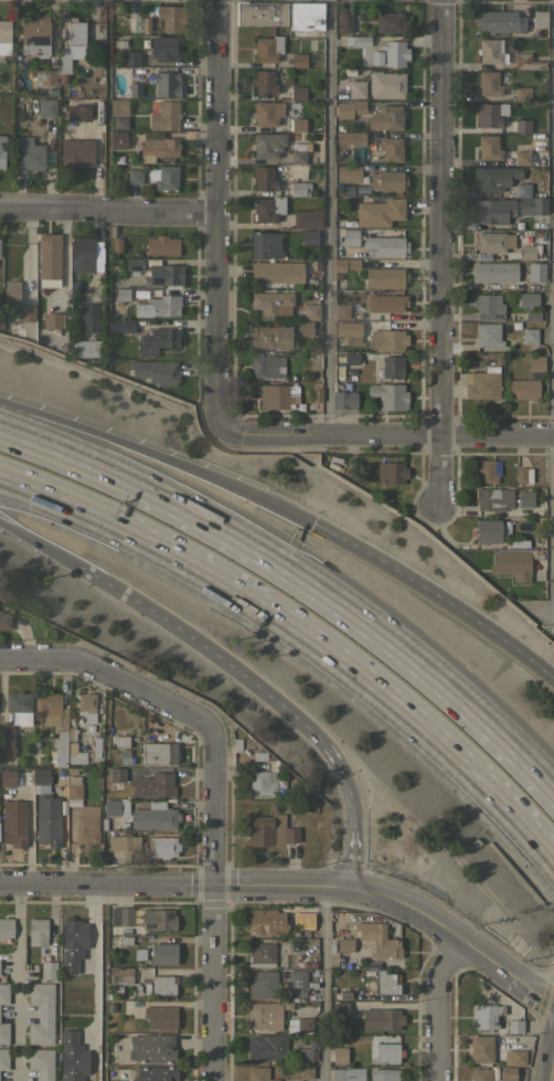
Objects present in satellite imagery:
building: (262, 13)
building: (305, 17)
building: (172, 18)
building: (540, 19)
building: (344, 22)
building: (391, 22)
building: (500, 22)
building: (146, 24)
building: (75, 31)
building: (4, 36)
building: (35, 36)
building: (356, 40)
building: (119, 44)
building: (166, 47)
building: (267, 47)
building: (491, 51)
building: (394, 52)
building: (131, 57)
building: (376, 57)
building: (298, 60)
building: (528, 61)
building: (54, 72)
building: (264, 81)
building: (286, 82)
building: (167, 83)
building: (489, 83)
building: (386, 84)
building: (356, 88)
building: (135, 89)
building: (298, 92)
building: (522, 93)
building: (119, 106)
building: (46, 107)
building: (350, 108)
building: (78, 112)
building: (491, 113)
building: (164, 115)
building: (267, 115)
building: (386, 117)
building: (118, 121)
building: (298, 125)
building: (522, 125)
road: (97, 130)
building: (351, 137)
building: (116, 140)
building: (268, 145)
building: (161, 146)
building: (488, 147)
building: (391, 148)
building: (1, 150)
building: (76, 152)
building: (298, 152)
building: (29, 155)
building: (522, 158)
building: (349, 173)
building: (135, 176)
building: (163, 177)
building: (493, 177)
building: (264, 178)
building: (387, 180)
road: (96, 183)
building: (299, 188)
building: (522, 189)
building: (347, 190)
building: (268, 208)
road: (109, 209)
building: (505, 209)
road: (219, 210)
building: (380, 211)
road: (329, 216)
building: (308, 218)
building: (310, 236)
building: (350, 236)
building: (492, 241)
building: (265, 244)
building: (115, 245)
building: (162, 245)
building: (385, 245)
road: (437, 251)
building: (526, 251)
building: (85, 252)
building: (50, 255)
building: (482, 256)
building: (134, 264)
building: (344, 264)
building: (278, 272)
building: (488, 272)
building: (164, 274)
building: (385, 278)
building: (519, 283)
building: (12, 289)
building: (122, 294)
building: (526, 299)
building: (269, 301)
building: (386, 303)
building: (164, 305)
building: (488, 306)
building: (311, 311)
building: (342, 311)
building: (25, 312)
road: (551, 314)
building: (89, 317)
building: (531, 317)
building: (52, 320)
building: (121, 325)
building: (305, 328)
building: (348, 331)
building: (486, 335)
building: (269, 336)
building: (529, 336)
building: (387, 339)
building: (157, 340)
building: (86, 348)
building: (350, 358)
building: (535, 363)
building: (266, 365)
building: (392, 365)
building: (157, 371)
building: (481, 383)
building: (523, 389)
building: (277, 395)
building: (315, 395)
building: (388, 395)
building: (343, 396)
road: (386, 435)
road: (158, 455)
building: (486, 470)
building: (390, 473)
building: (522, 475)
building: (492, 498)
building: (524, 498)
building: (487, 530)
building: (511, 564)
road: (298, 572)
road: (436, 594)
road: (161, 614)
building: (4, 621)
road: (300, 636)
road: (109, 678)
building: (20, 706)
building: (86, 706)
building: (51, 709)
building: (7, 739)
building: (121, 741)
building: (95, 748)
building: (60, 750)
building: (159, 752)
building: (75, 753)
building: (273, 763)
road: (341, 769)
building: (117, 774)
building: (8, 777)
building: (259, 783)
building: (152, 785)
building: (283, 786)
building: (73, 791)
building: (45, 810)
building: (143, 813)
building: (13, 823)
building: (86, 825)
building: (269, 830)
building: (124, 842)
building: (161, 846)
road: (352, 854)
road: (150, 866)
road: (173, 883)
road: (211, 907)
building: (121, 915)
building: (302, 916)
road: (432, 918)
building: (158, 919)
building: (260, 921)
building: (6, 928)
building: (36, 931)
building: (377, 939)
building: (72, 943)
building: (344, 944)
building: (162, 953)
building: (260, 955)
building: (47, 969)
building: (121, 975)
road: (17, 982)
road: (96, 982)
building: (385, 982)
building: (260, 983)
building: (296, 983)
building: (163, 984)
road: (322, 984)
road: (529, 990)
building: (343, 992)
building: (3, 993)
road: (437, 1006)
building: (341, 1010)
building: (41, 1013)
building: (264, 1015)
building: (484, 1016)
building: (159, 1017)
building: (390, 1019)
building: (300, 1024)
building: (514, 1026)
building: (3, 1032)
building: (152, 1047)
building: (266, 1047)
building: (481, 1049)
building: (386, 1052)
building: (339, 1054)
building: (72, 1056)
building: (302, 1056)
building: (513, 1057)
building: (3, 1059)
building: (40, 1063)
road: (552, 1069)
building: (305, 1071)
building: (155, 1073)
building: (258, 1073)
building: (508, 1073)
building: (347, 1074)
building: (384, 1074)
building: (480, 1074)

